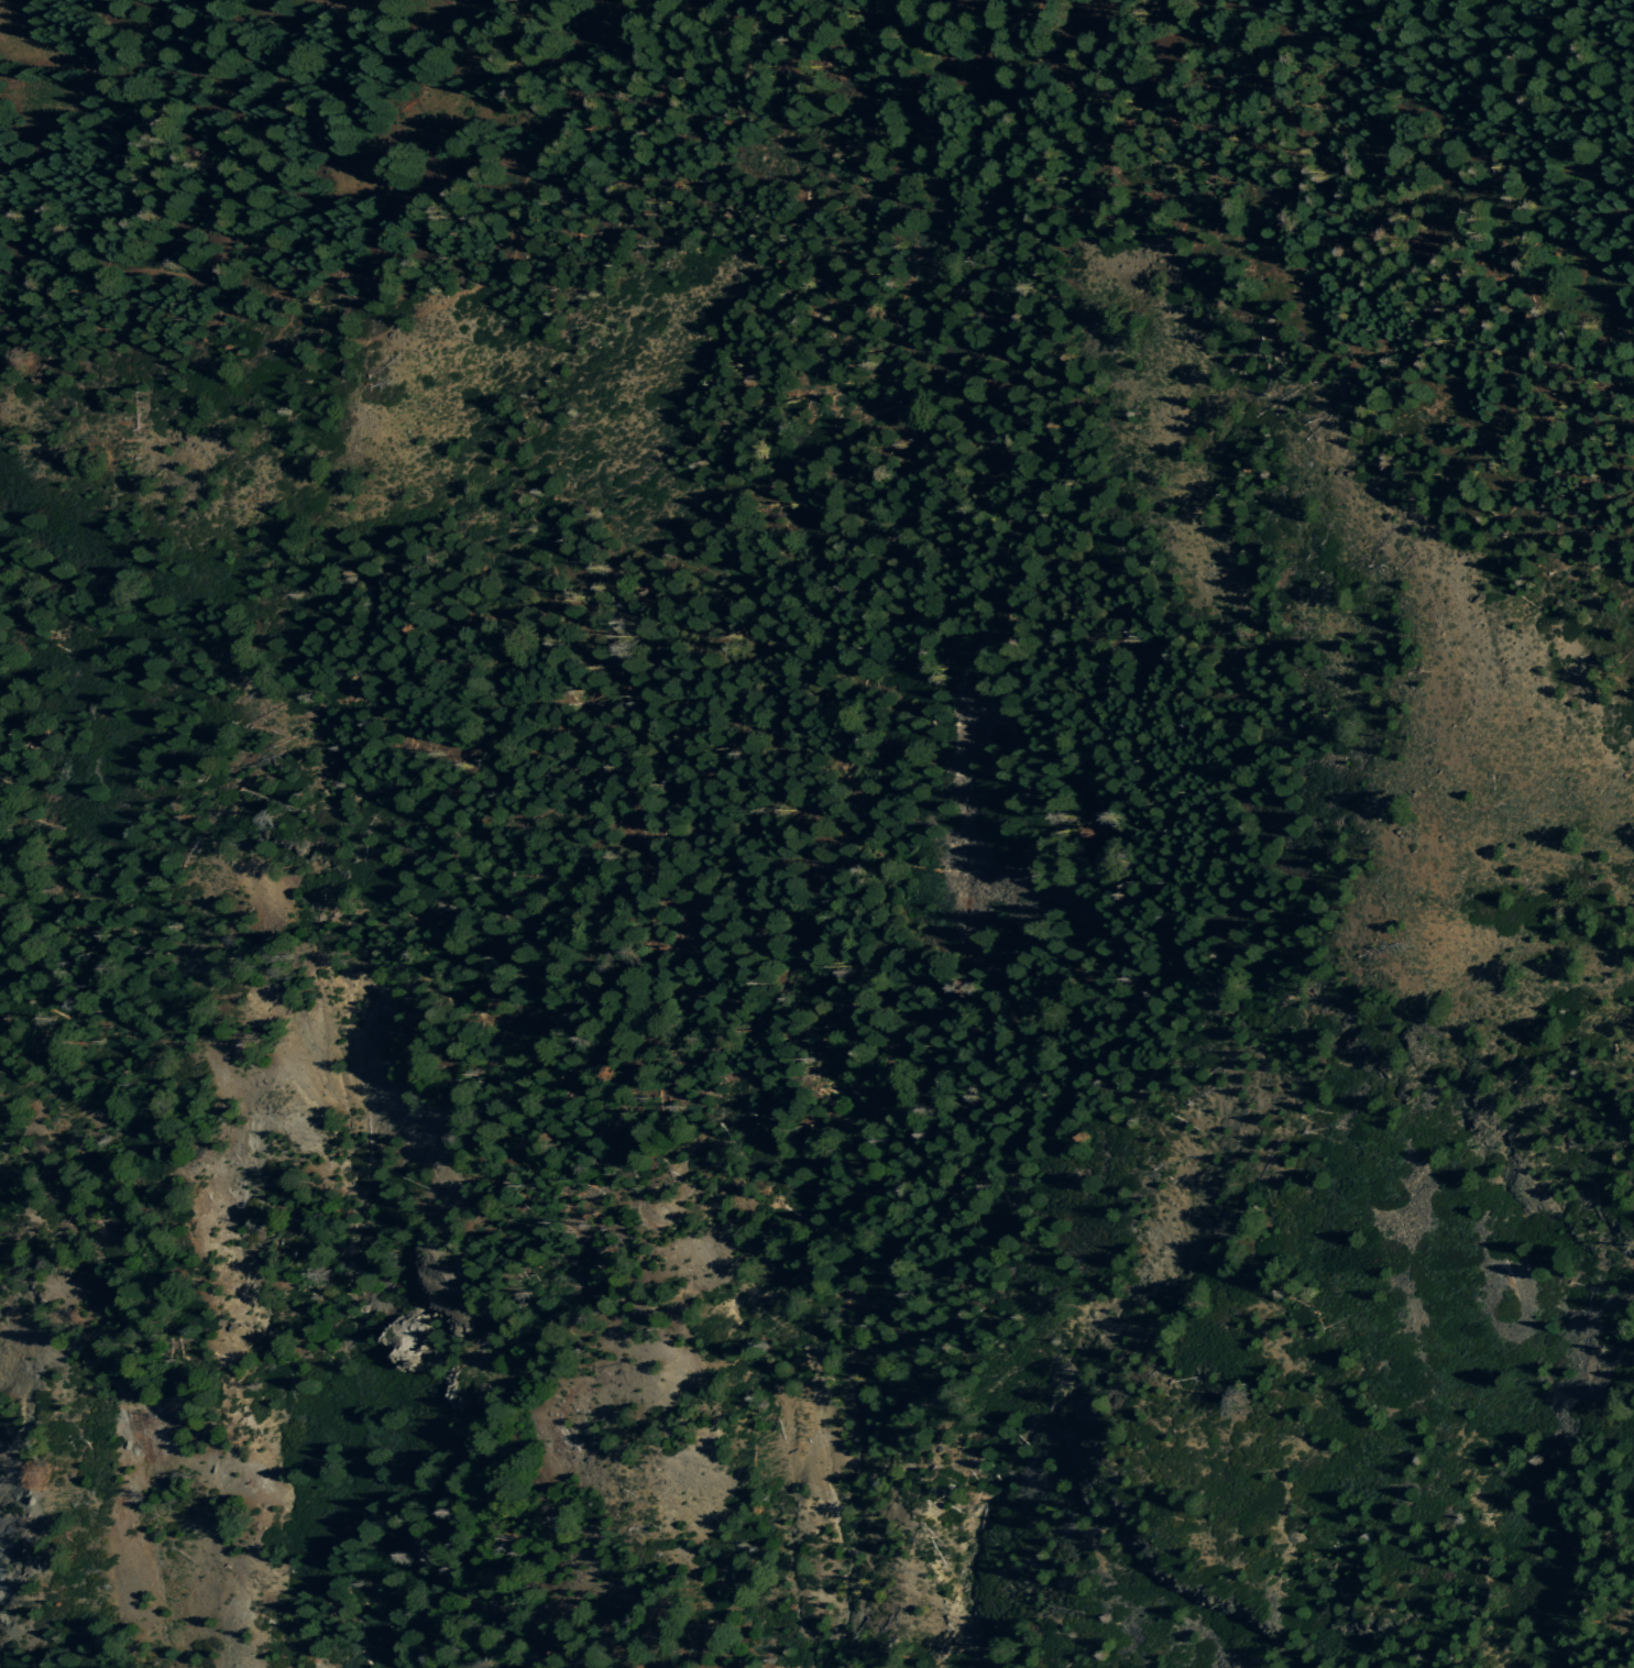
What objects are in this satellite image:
road: (364, 332)

